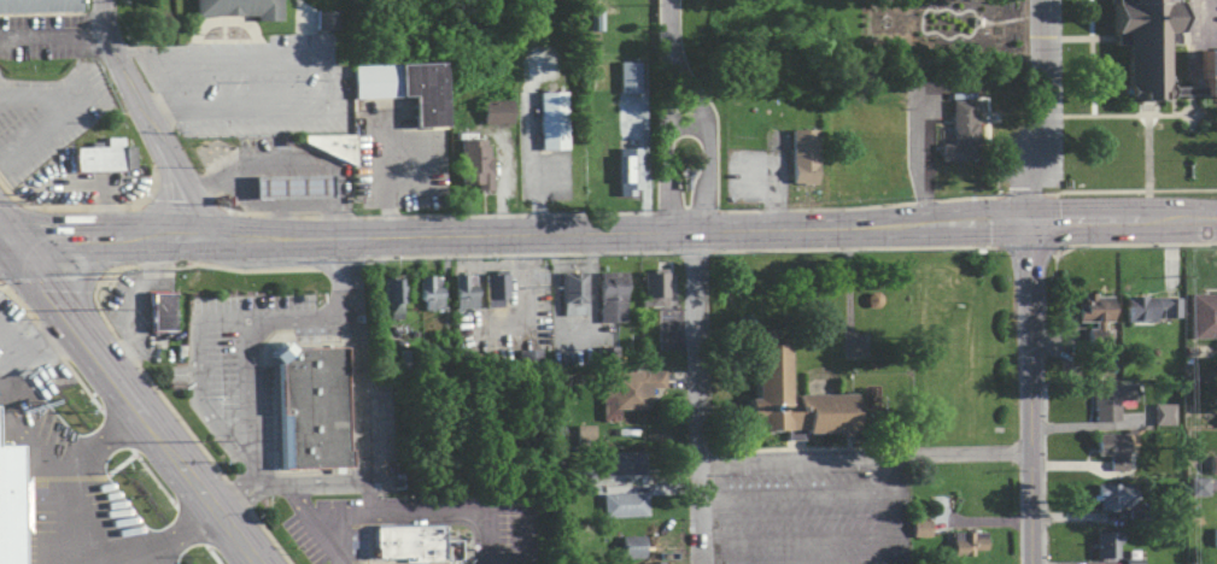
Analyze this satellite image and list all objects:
building: (37, 5)
road: (942, 7)
building: (241, 8)
building: (318, 19)
building: (329, 19)
building: (590, 20)
parking lot: (1205, 22)
road: (53, 34)
parking lot: (46, 39)
building: (1147, 42)
road: (334, 72)
building: (1210, 74)
building: (622, 76)
road: (177, 81)
parking lot: (253, 86)
building: (405, 88)
road: (87, 105)
road: (700, 111)
building: (490, 112)
road: (1035, 113)
parking lot: (49, 116)
road: (148, 119)
building: (551, 121)
road: (683, 124)
building: (961, 134)
road: (665, 137)
building: (334, 146)
building: (106, 154)
parking lot: (396, 155)
parking lot: (537, 155)
road: (296, 157)
building: (802, 157)
building: (473, 163)
building: (627, 170)
parking lot: (286, 172)
road: (391, 182)
road: (121, 183)
parking lot: (84, 184)
road: (105, 184)
building: (291, 187)
road: (505, 187)
road: (954, 198)
road: (536, 201)
road: (276, 205)
road: (345, 217)
road: (281, 223)
road: (1178, 223)
road: (1082, 225)
road: (987, 227)
road: (821, 229)
road: (2, 234)
road: (517, 235)
road: (142, 237)
road: (180, 237)
road: (2, 239)
traffic signals: (6, 239)
road: (64, 239)
road: (220, 240)
road: (292, 240)
road: (63, 242)
road: (1136, 243)
road: (1022, 246)
road: (850, 248)
road: (630, 252)
road: (688, 252)
road: (591, 253)
road: (472, 255)
road: (1012, 262)
road: (338, 264)
road: (156, 265)
road: (244, 269)
road: (49, 277)
road: (341, 280)
road: (95, 289)
building: (496, 289)
building: (655, 289)
building: (429, 290)
building: (464, 290)
building: (393, 293)
building: (573, 293)
building: (610, 294)
road: (17, 300)
road: (525, 300)
road: (136, 305)
building: (1152, 309)
building: (163, 312)
building: (1095, 313)
building: (1204, 316)
parking lot: (136, 318)
road: (291, 323)
road: (76, 328)
road: (575, 336)
road: (48, 339)
parking lot: (574, 342)
road: (39, 346)
road: (0, 347)
parking lot: (21, 351)
road: (8, 353)
road: (128, 354)
building: (610, 357)
road: (1014, 357)
building: (405, 359)
building: (443, 360)
building: (529, 360)
building: (469, 364)
building: (771, 371)
road: (82, 386)
parking lot: (232, 389)
road: (250, 389)
building: (630, 392)
road: (1028, 394)
road: (697, 396)
building: (1110, 401)
building: (310, 404)
building: (1162, 413)
building: (1216, 417)
road: (183, 424)
road: (115, 429)
building: (579, 433)
road: (159, 436)
road: (95, 443)
building: (1112, 448)
road: (1017, 452)
road: (864, 457)
building: (624, 463)
road: (118, 464)
building: (1211, 465)
road: (47, 470)
road: (152, 476)
building: (584, 477)
building: (1195, 486)
road: (236, 494)
road: (792, 494)
building: (1114, 495)
road: (371, 498)
road: (298, 500)
building: (13, 501)
building: (625, 505)
road: (215, 509)
road: (416, 511)
road: (885, 511)
parking lot: (808, 516)
road: (1017, 516)
road: (189, 524)
building: (923, 529)
parking lot: (328, 533)
road: (269, 536)
building: (1215, 536)
road: (346, 537)
road: (487, 537)
road: (174, 539)
road: (794, 539)
building: (970, 542)
building: (415, 544)
building: (1107, 545)
building: (633, 547)
road: (211, 553)
building: (1134, 560)

